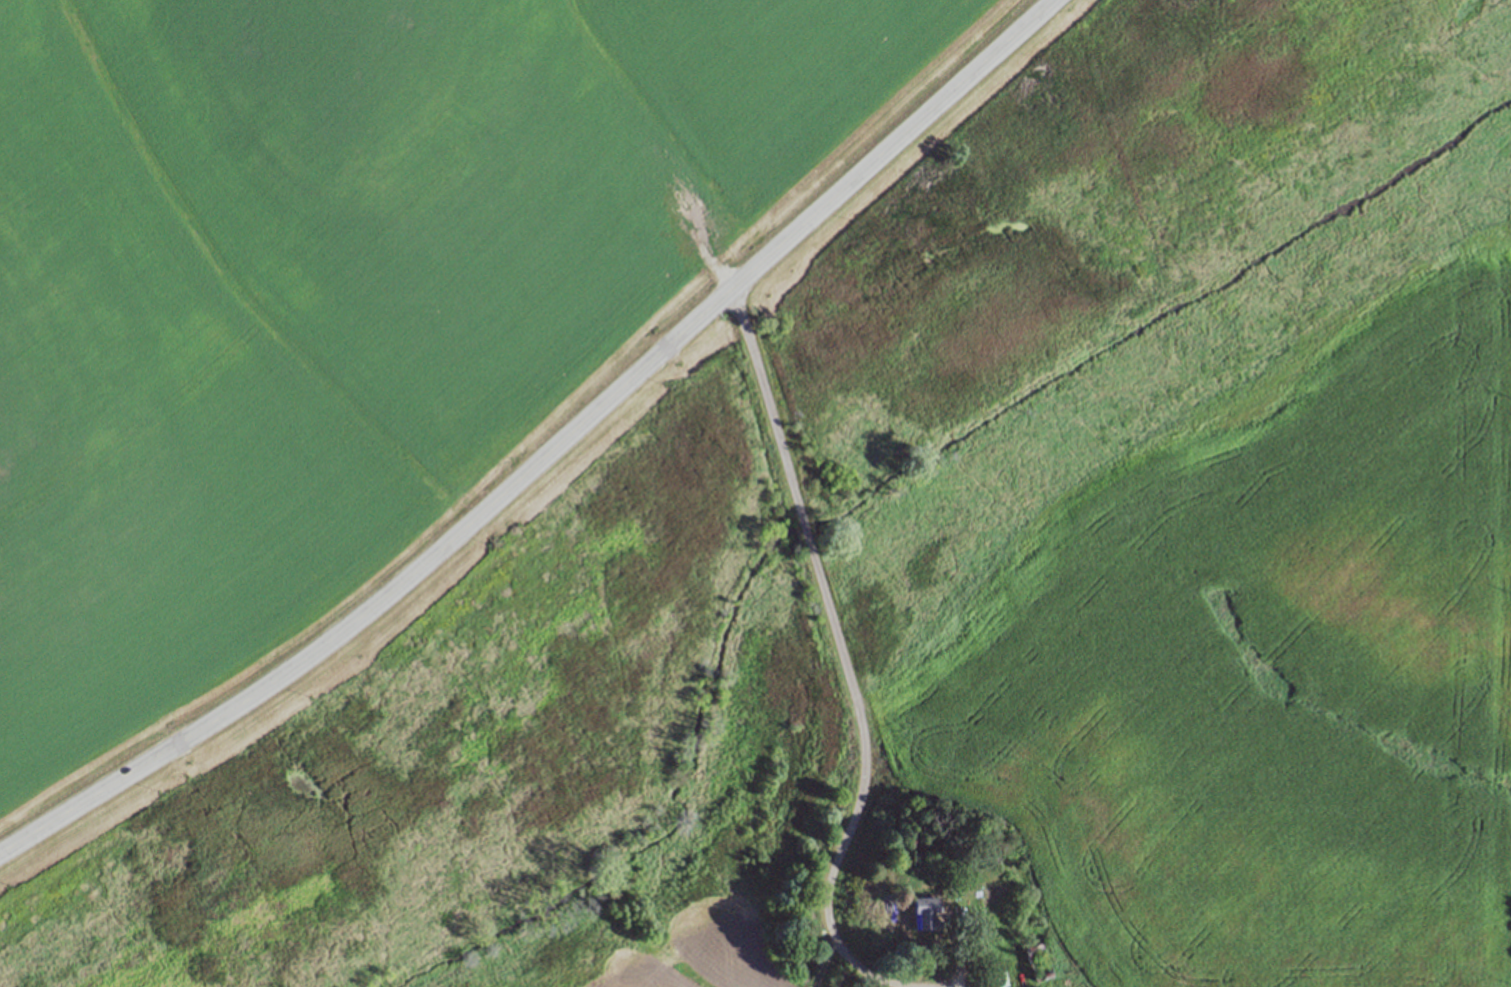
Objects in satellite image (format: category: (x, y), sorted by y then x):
road: (548, 454)
road: (846, 657)
building: (925, 914)
building: (1037, 962)
building: (996, 979)

